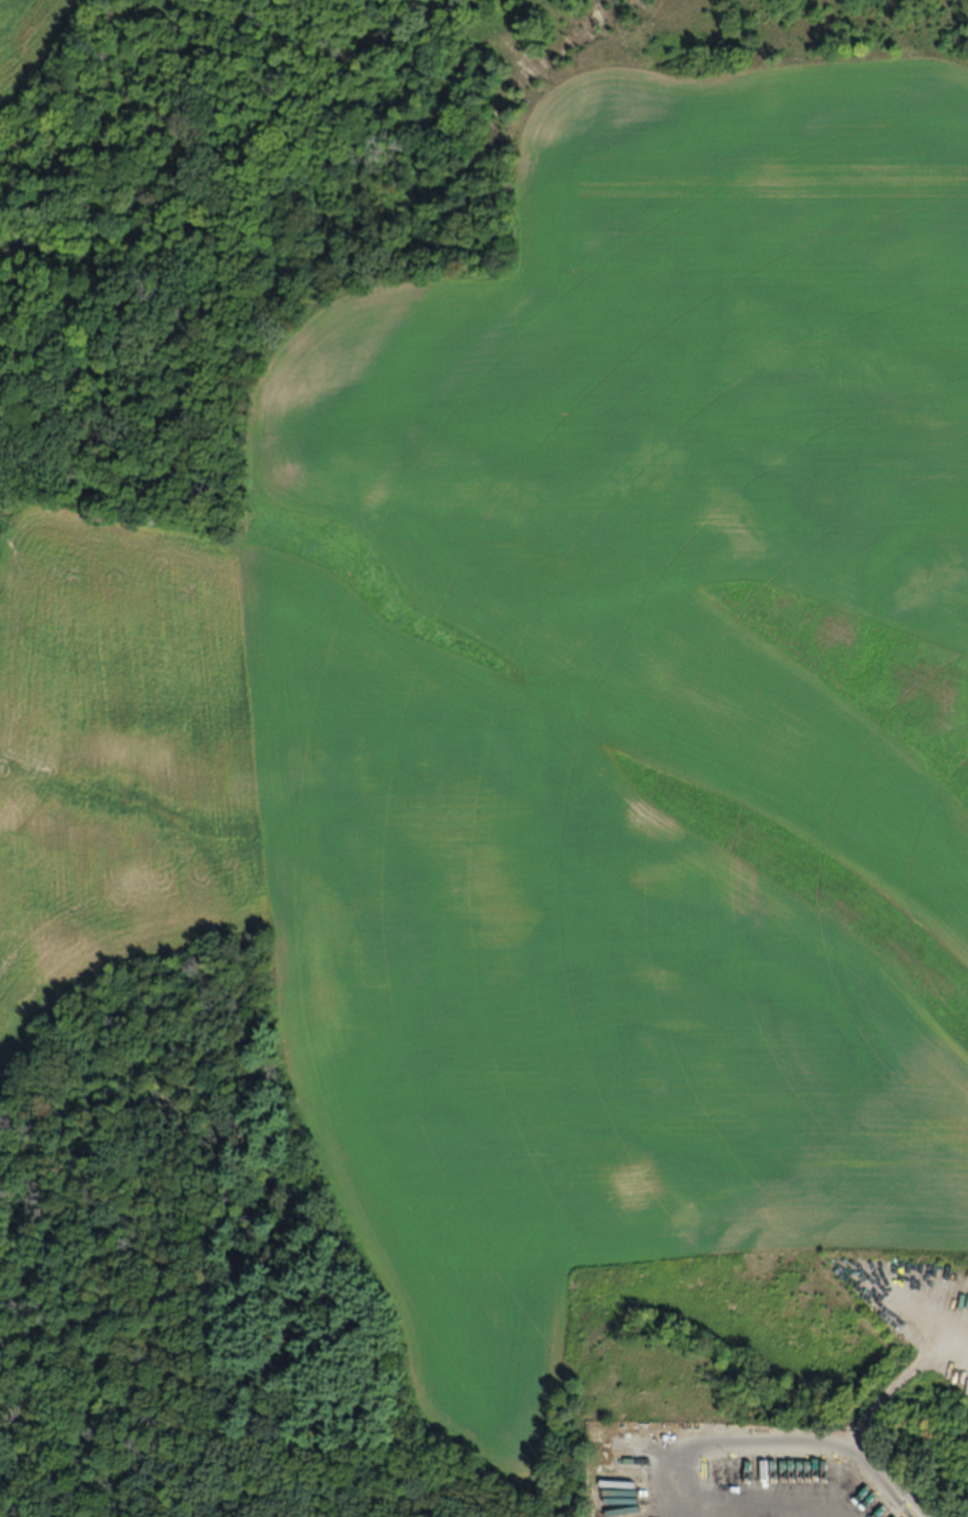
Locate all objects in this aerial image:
crop: (33, 45)
road: (742, 1513)

